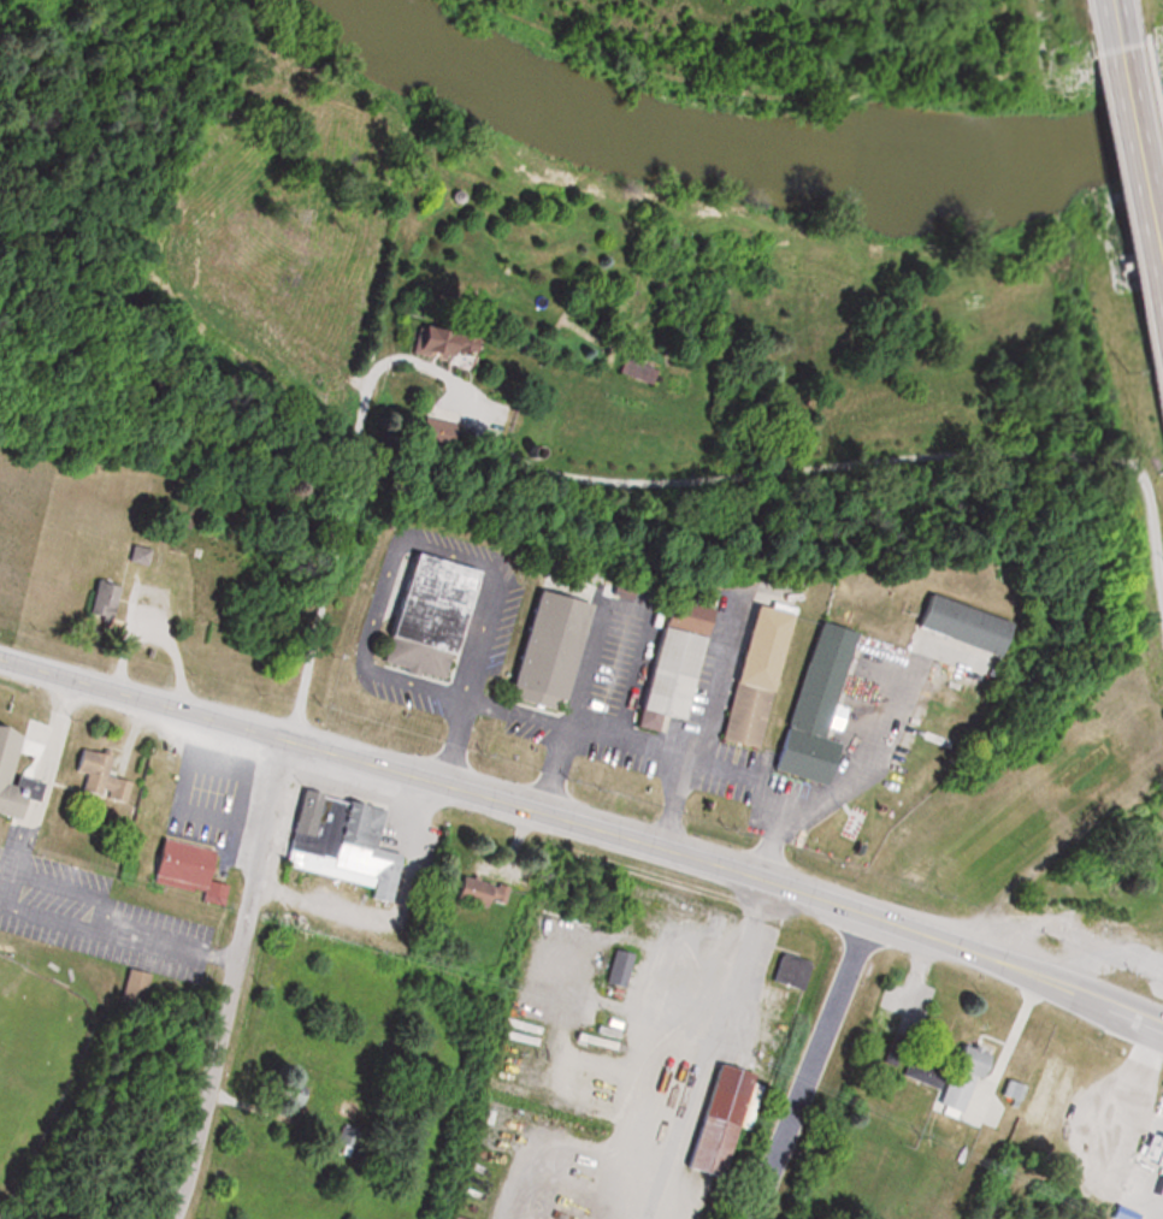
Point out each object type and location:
road: (1106, 24)
river: (494, 83)
river: (910, 166)
road: (1137, 167)
building: (438, 343)
building: (432, 430)
road: (797, 472)
building: (82, 593)
building: (107, 599)
building: (408, 610)
building: (941, 613)
building: (527, 643)
building: (655, 663)
building: (739, 668)
building: (796, 703)
building: (1, 727)
road: (625, 740)
building: (81, 765)
road: (550, 771)
building: (102, 773)
road: (45, 779)
building: (0, 785)
road: (270, 794)
road: (669, 803)
road: (585, 827)
building: (348, 841)
building: (164, 856)
building: (484, 889)
road: (63, 893)
road: (49, 924)
road: (164, 948)
building: (625, 964)
road: (807, 1065)
building: (944, 1076)
building: (1005, 1090)
building: (1037, 1090)
building: (727, 1118)
road: (1114, 1125)
building: (1146, 1147)
building: (1156, 1166)

